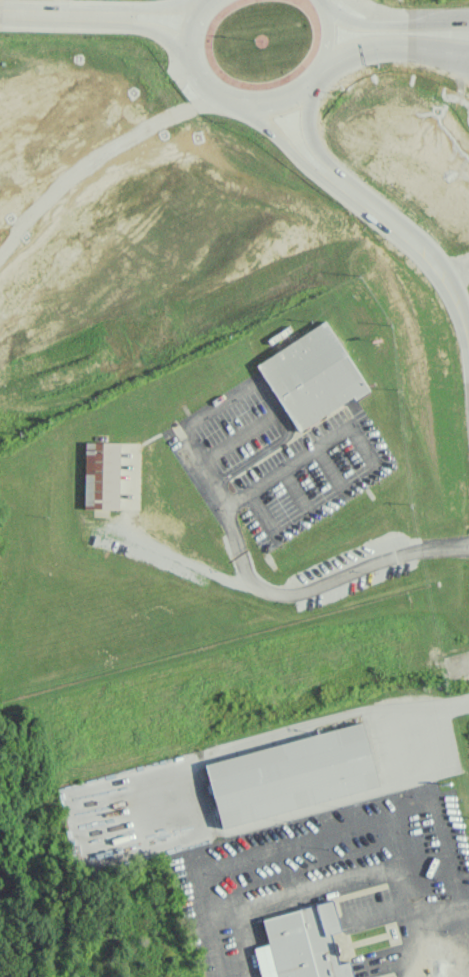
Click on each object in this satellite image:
road: (147, 6)
road: (50, 13)
road: (393, 19)
road: (148, 26)
road: (392, 45)
road: (460, 56)
road: (256, 103)
road: (309, 134)
road: (284, 144)
road: (429, 256)
building: (311, 375)
road: (284, 467)
building: (112, 475)
road: (280, 593)
road: (426, 706)
building: (291, 774)
road: (182, 831)
road: (307, 886)
road: (440, 913)
road: (467, 918)
road: (211, 924)
building: (301, 944)
road: (406, 948)

